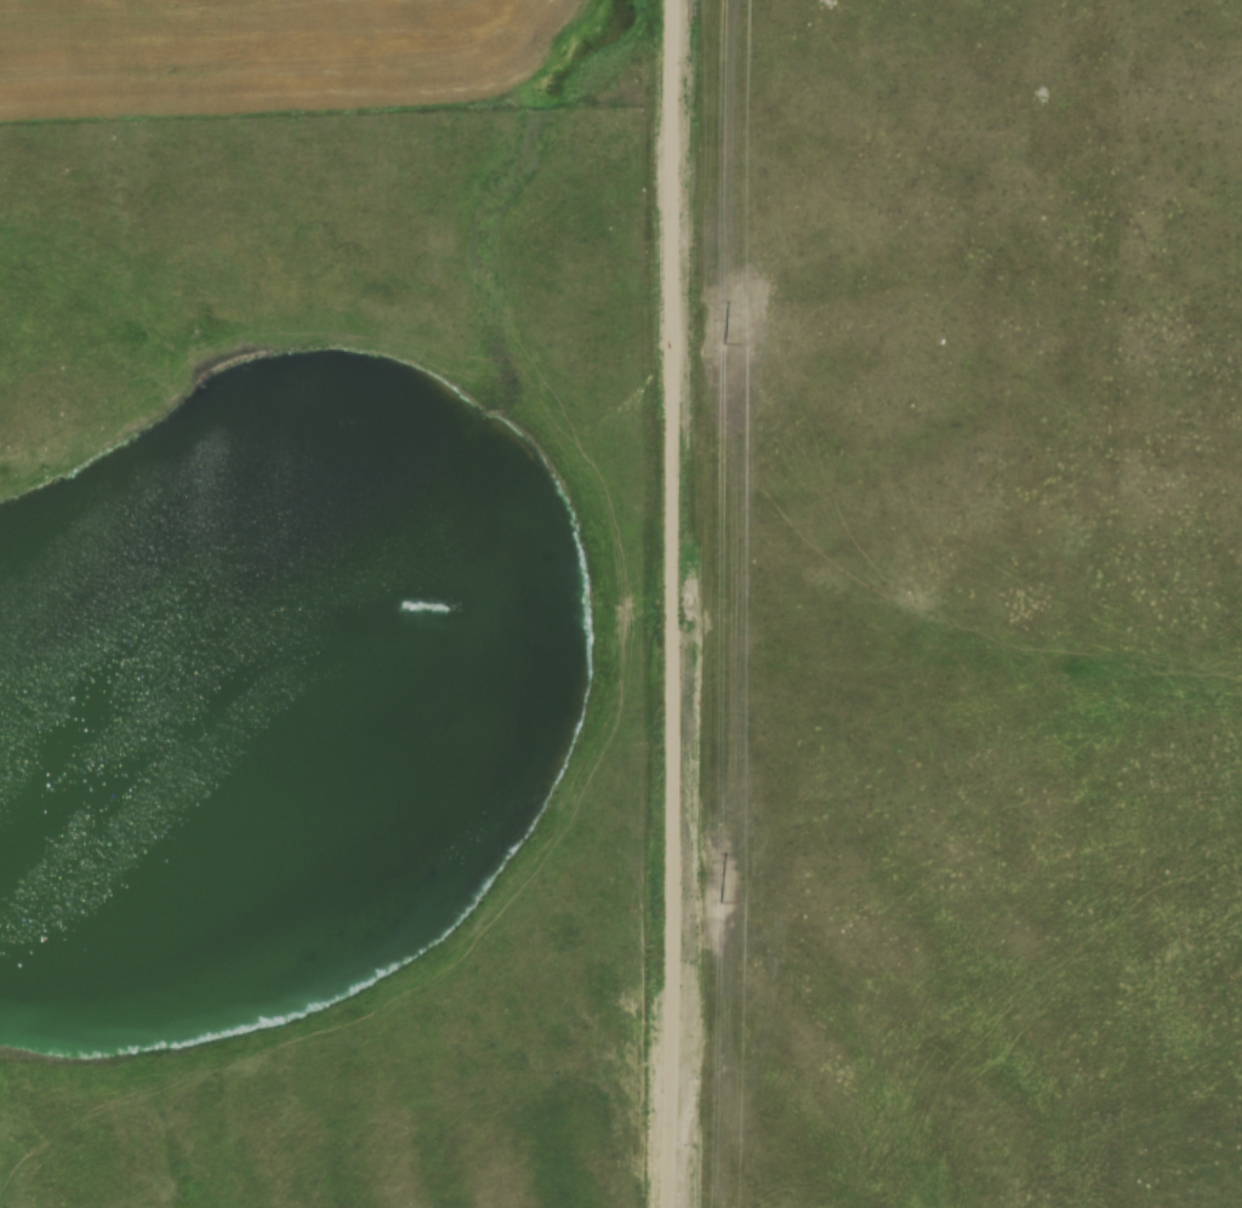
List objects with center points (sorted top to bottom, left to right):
power tower: (724, 342)
road: (674, 617)
power tower: (719, 901)

